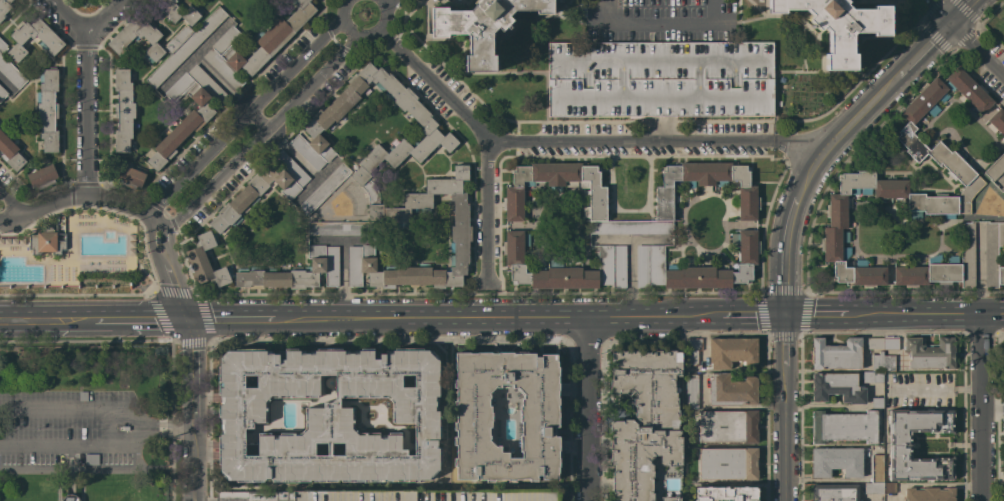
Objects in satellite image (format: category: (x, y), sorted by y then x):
road: (388, 5)
building: (4, 7)
road: (937, 11)
road: (960, 11)
building: (180, 12)
road: (103, 17)
traffic signals: (949, 23)
road: (598, 24)
road: (660, 24)
building: (838, 25)
building: (481, 26)
road: (362, 34)
building: (34, 38)
building: (121, 40)
building: (185, 45)
building: (270, 45)
road: (976, 50)
building: (10, 69)
building: (660, 79)
parking lot: (660, 79)
road: (886, 85)
road: (84, 89)
building: (968, 90)
road: (228, 93)
building: (2, 94)
building: (48, 109)
building: (123, 110)
road: (244, 115)
building: (193, 121)
building: (998, 122)
road: (261, 131)
road: (577, 140)
building: (10, 152)
building: (995, 167)
building: (360, 174)
building: (1003, 174)
building: (130, 175)
building: (42, 177)
road: (801, 186)
building: (1002, 188)
building: (262, 189)
building: (323, 190)
building: (898, 190)
building: (594, 199)
road: (116, 202)
road: (12, 203)
road: (40, 207)
road: (486, 208)
building: (340, 228)
building: (45, 242)
road: (170, 251)
building: (993, 253)
road: (154, 258)
building: (205, 260)
building: (943, 266)
building: (565, 267)
building: (696, 267)
building: (296, 272)
road: (784, 273)
road: (342, 280)
road: (500, 292)
road: (76, 293)
road: (191, 293)
road: (474, 294)
road: (179, 306)
road: (743, 317)
traffic signals: (783, 317)
road: (854, 317)
road: (61, 318)
road: (152, 318)
traffic signals: (183, 318)
road: (220, 318)
road: (481, 318)
road: (965, 318)
road: (166, 340)
road: (387, 340)
building: (875, 343)
building: (891, 344)
building: (692, 350)
building: (732, 351)
building: (930, 353)
building: (836, 354)
building: (877, 361)
building: (888, 363)
road: (783, 367)
building: (872, 376)
building: (837, 387)
road: (934, 388)
building: (732, 390)
building: (692, 392)
building: (83, 396)
building: (876, 402)
road: (191, 409)
road: (979, 409)
road: (588, 410)
building: (329, 415)
building: (538, 416)
park: (84, 421)
building: (727, 426)
building: (843, 426)
building: (646, 427)
road: (138, 428)
road: (165, 429)
parking lot: (69, 431)
building: (899, 445)
road: (69, 457)
building: (91, 459)
road: (784, 459)
building: (835, 461)
building: (727, 463)
road: (28, 466)
road: (126, 466)
road: (68, 467)
building: (876, 467)
road: (940, 483)
building: (878, 487)
building: (835, 492)
building: (726, 494)
building: (929, 494)
building: (427, 496)
parking garage: (427, 496)
building: (69, 498)

